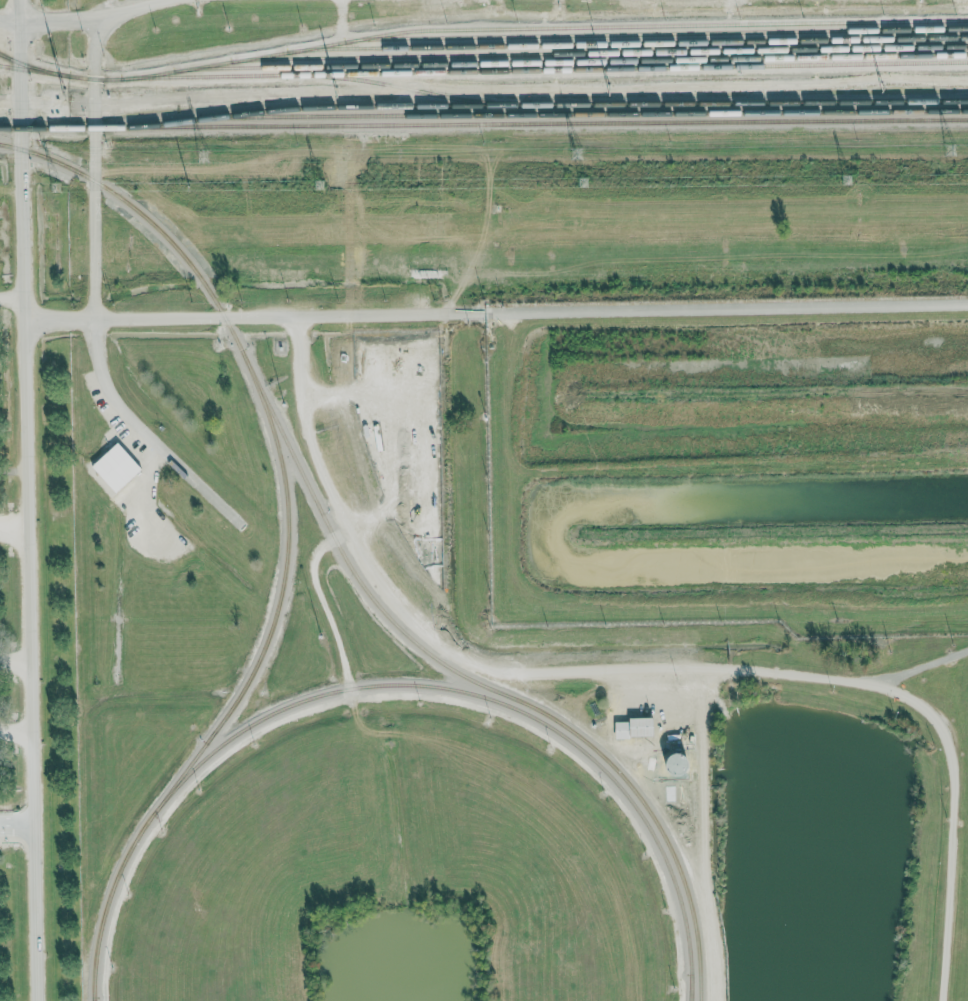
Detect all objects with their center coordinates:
power tower: (921, 1)
power tower: (559, 8)
power tower: (198, 13)
road: (64, 19)
railway: (542, 27)
railway: (656, 33)
railway: (627, 43)
railway: (599, 52)
railway: (570, 61)
road: (20, 63)
railway: (33, 66)
railway: (483, 70)
railway: (414, 89)
power tower: (881, 92)
power tower: (611, 95)
power tower: (337, 97)
railway: (541, 105)
railway: (574, 113)
railway: (483, 122)
power tower: (945, 149)
power tower: (570, 154)
power tower: (193, 156)
power tower: (849, 180)
power tower: (580, 181)
power tower: (318, 184)
power tower: (53, 185)
road: (94, 262)
road: (12, 295)
road: (495, 311)
wastewater plant: (729, 461)
road: (14, 526)
road: (28, 564)
railway: (355, 575)
railway: (280, 596)
road: (325, 607)
road: (647, 669)
road: (914, 670)
railway: (494, 700)
building: (635, 728)
road: (16, 735)
road: (560, 785)
road: (17, 823)
road: (706, 834)
railway: (107, 902)
railway: (690, 987)
railway: (93, 999)

